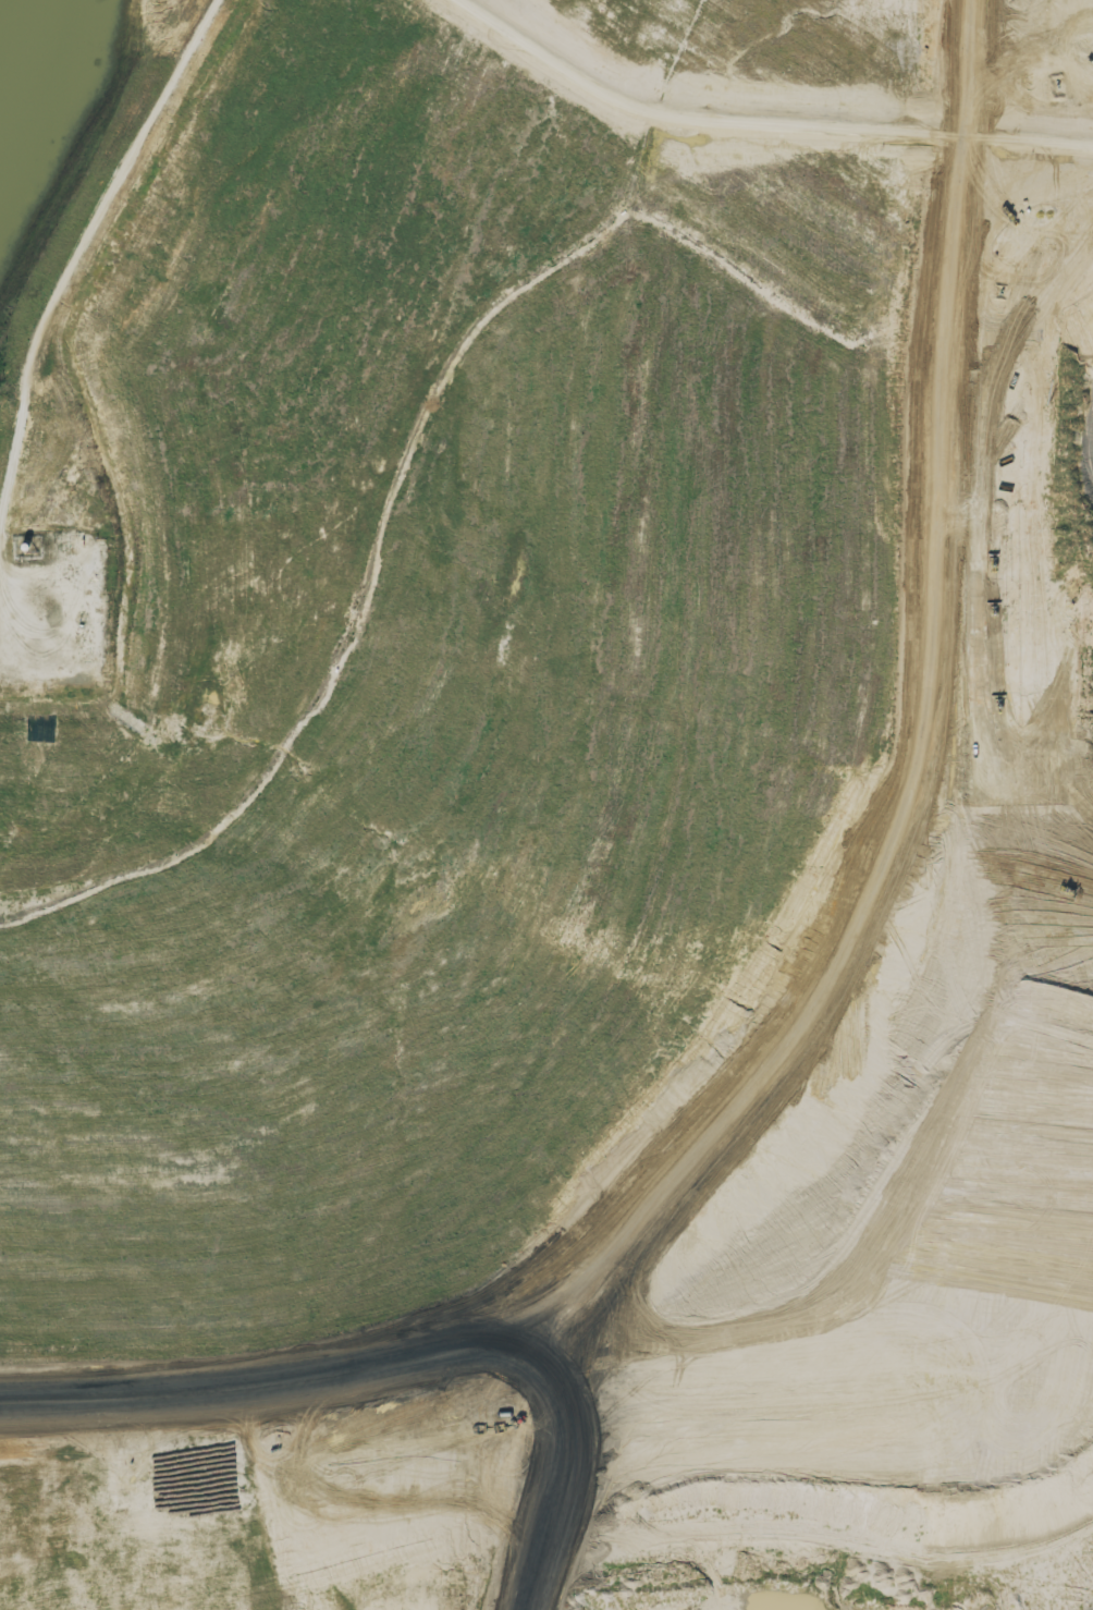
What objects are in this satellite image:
quarry: (295, 196)

